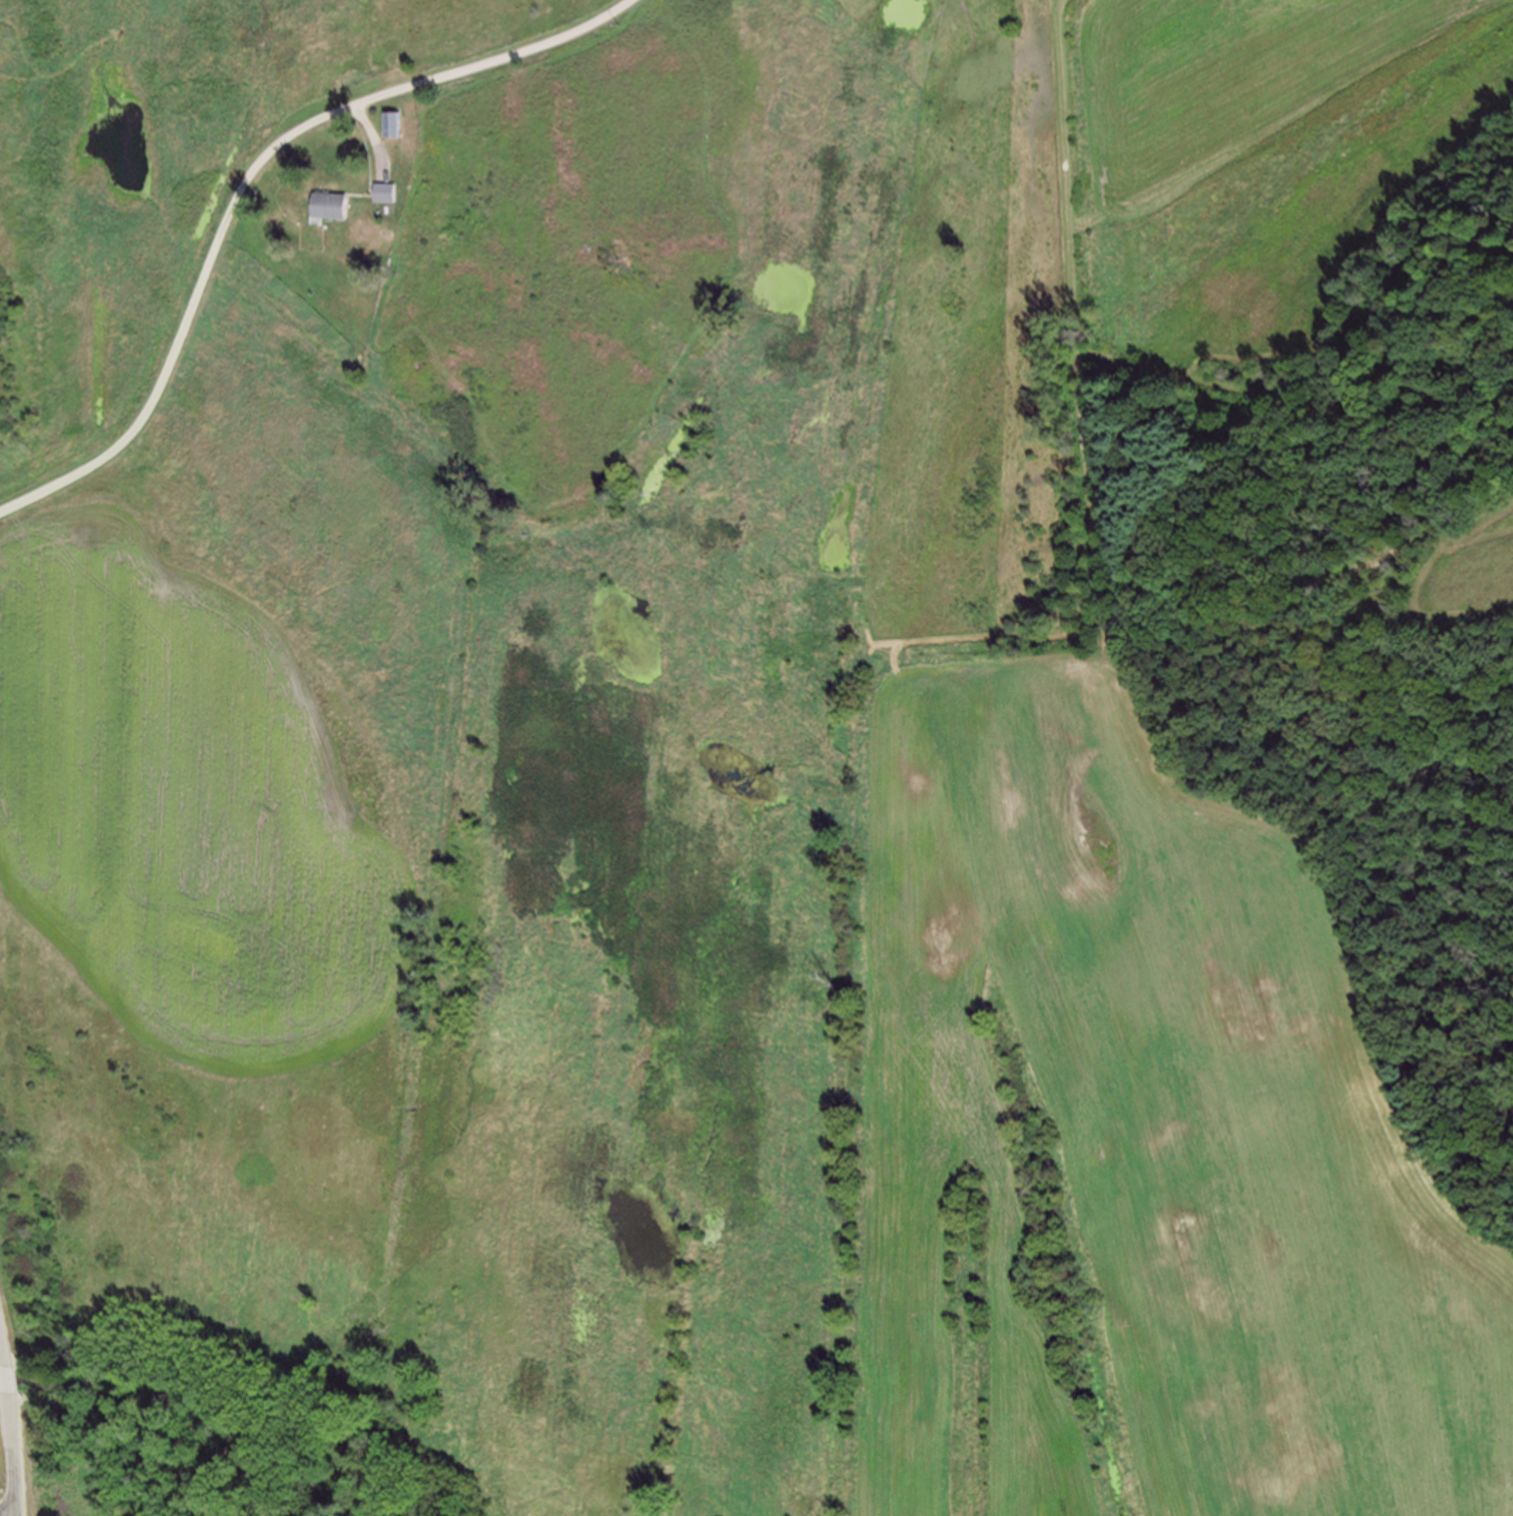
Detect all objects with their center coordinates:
building: (392, 125)
building: (400, 126)
road: (378, 139)
road: (251, 188)
building: (392, 195)
building: (337, 209)
road: (1, 1358)
river: (12, 1379)
road: (4, 1380)
river: (167, 1425)
road: (11, 1455)

